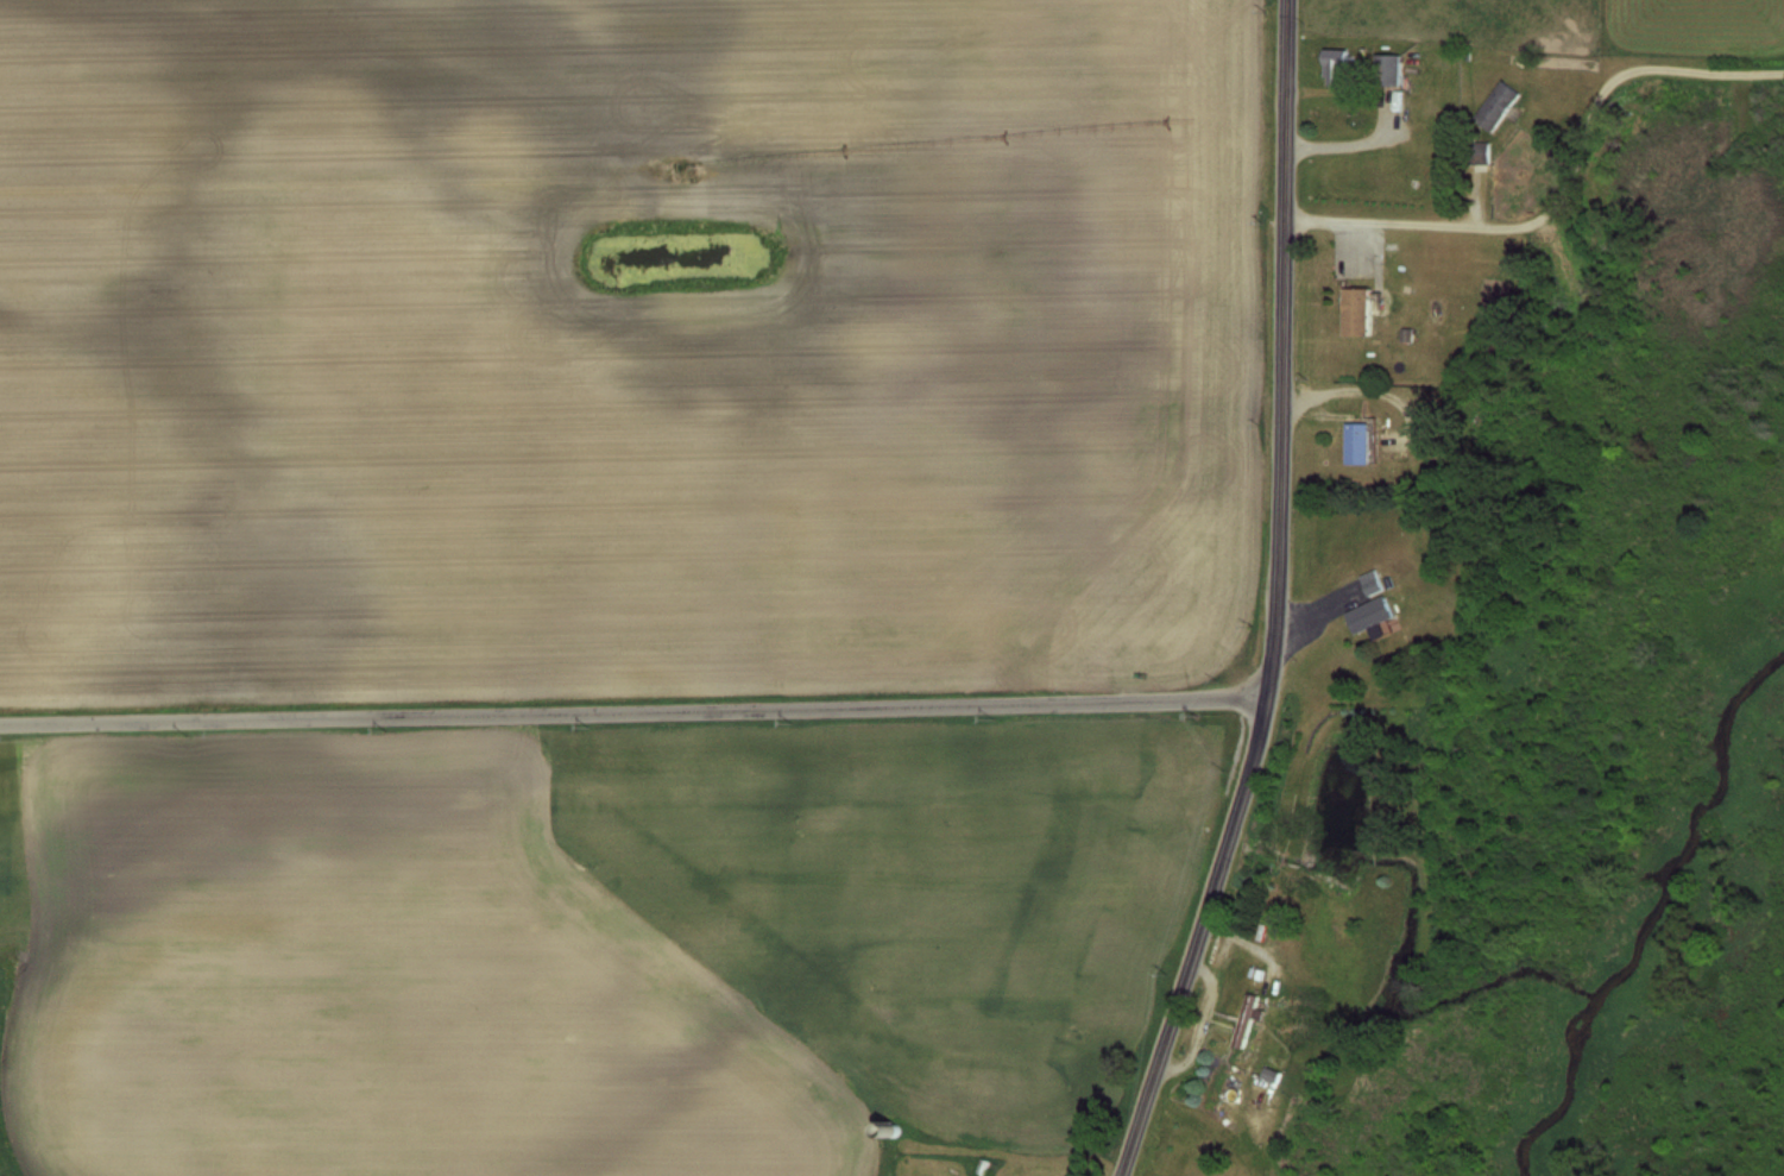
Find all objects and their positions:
building: (1332, 67)
building: (1385, 70)
building: (1495, 106)
building: (1477, 152)
road: (1563, 191)
building: (1356, 312)
road: (1285, 347)
road: (1382, 390)
building: (1357, 444)
building: (1368, 612)
road: (633, 709)
road: (1198, 937)
building: (1244, 1020)

